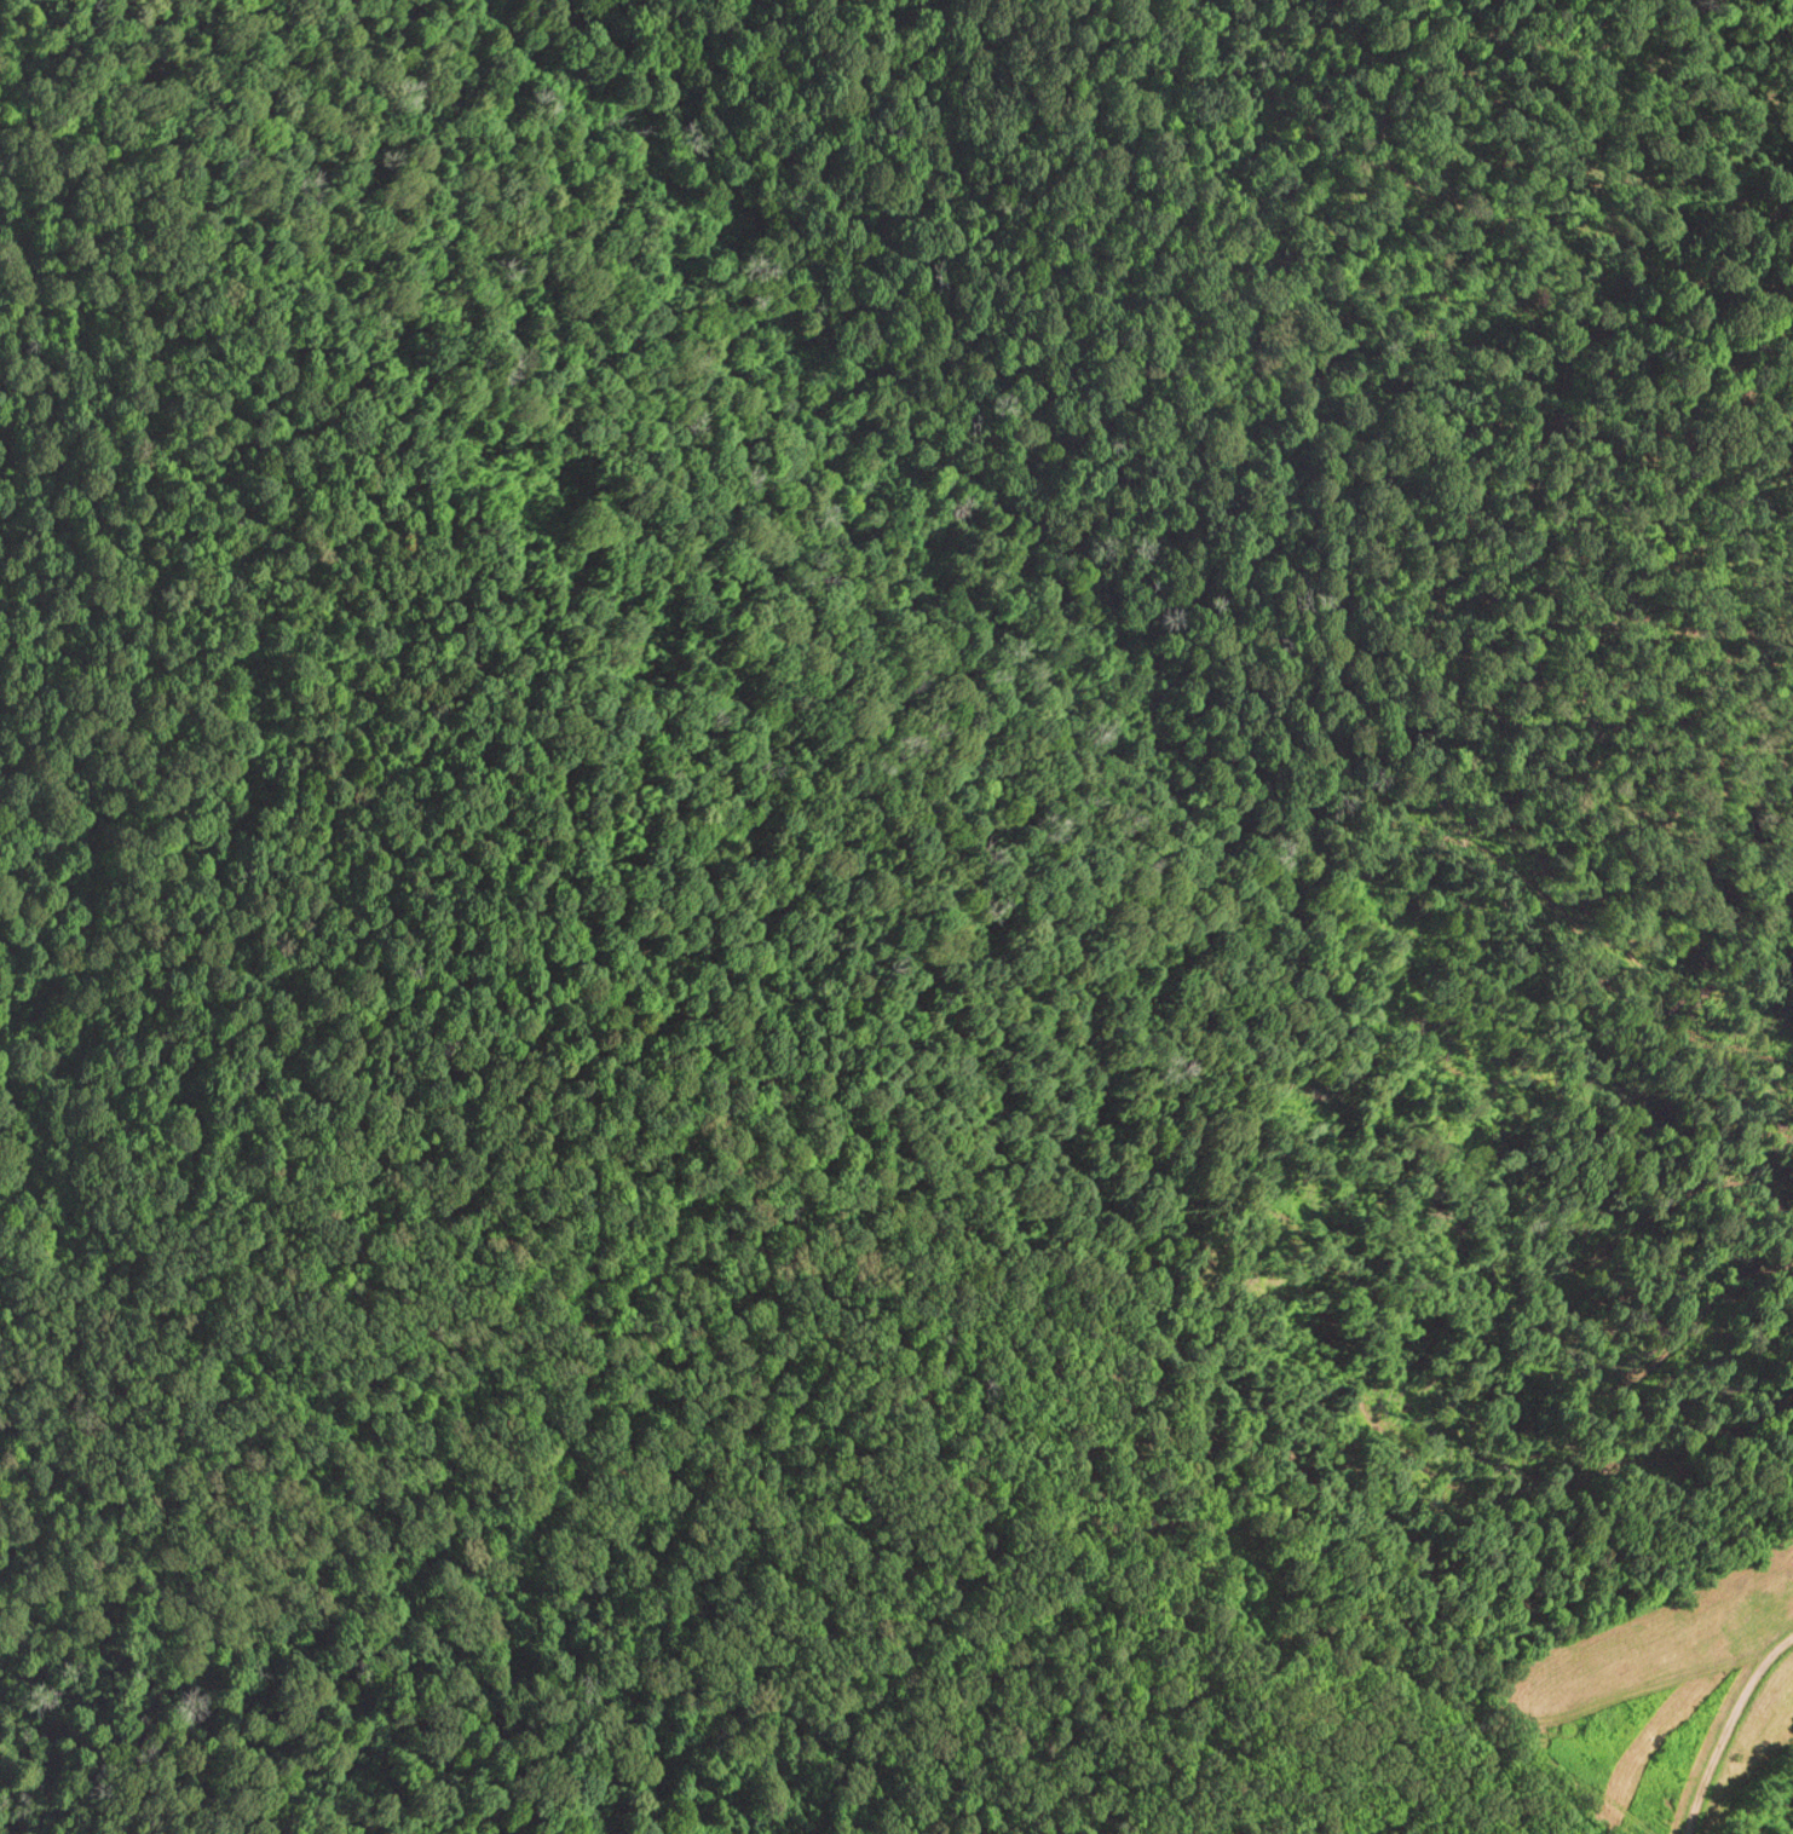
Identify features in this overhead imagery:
road: (1712, 1689)

